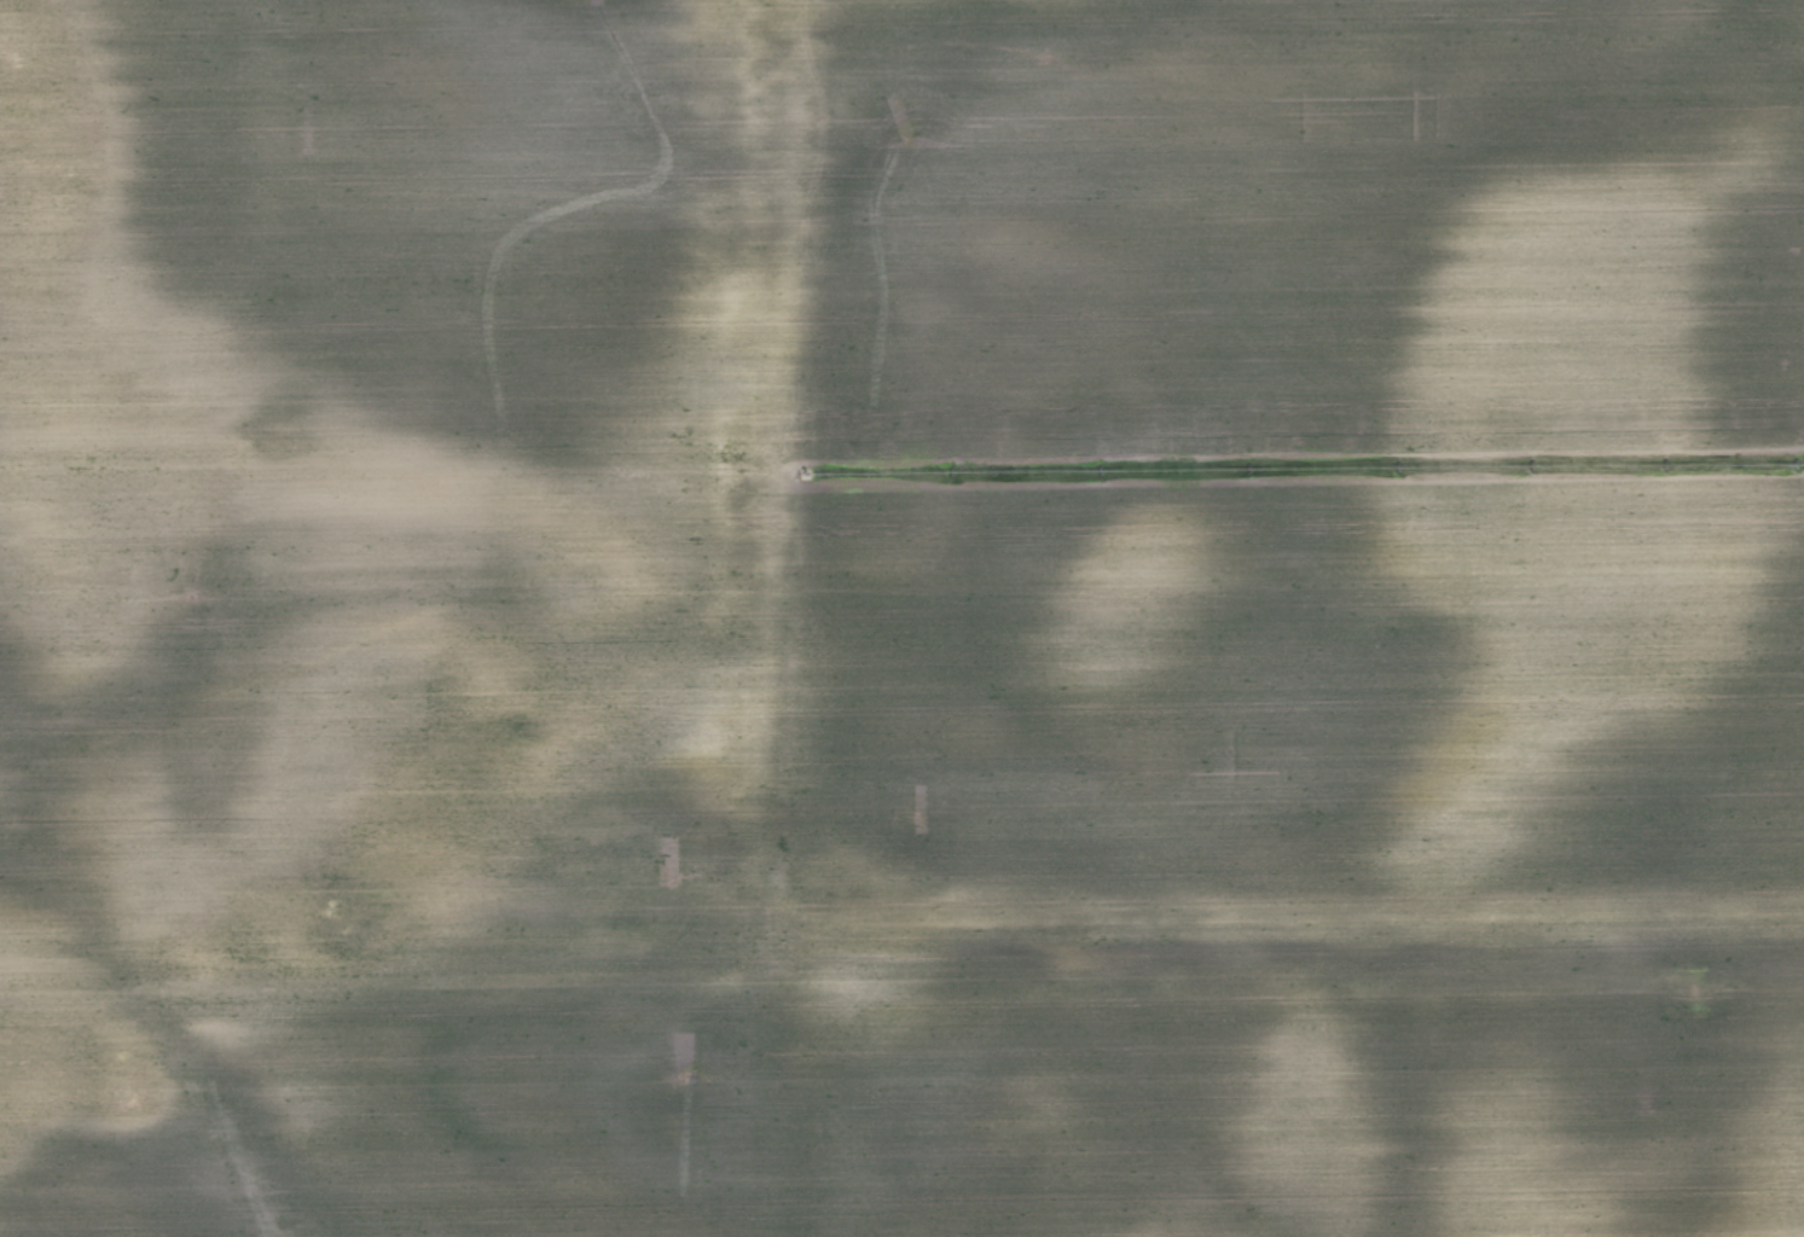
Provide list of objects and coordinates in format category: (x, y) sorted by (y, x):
road: (823, 865)

